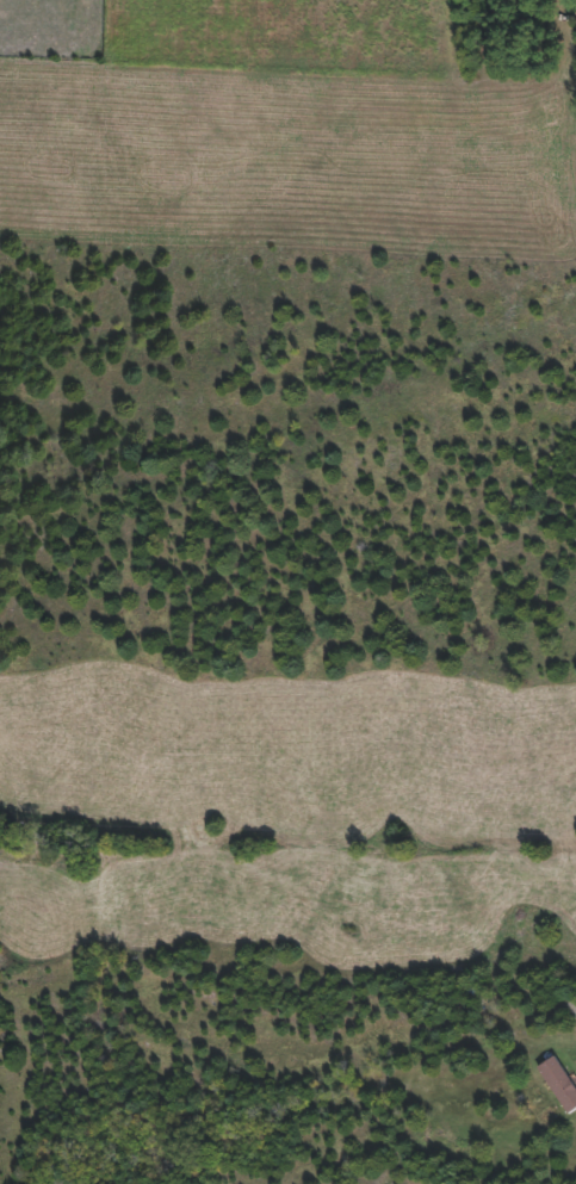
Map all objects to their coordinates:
building: (558, 1085)

